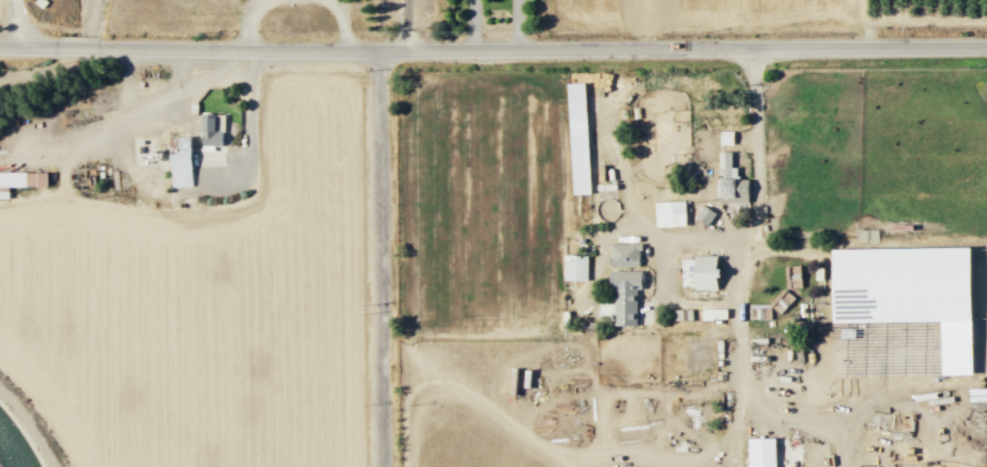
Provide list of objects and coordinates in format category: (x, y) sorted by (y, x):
road: (916, 19)
road: (250, 22)
road: (18, 23)
road: (342, 24)
road: (472, 24)
road: (517, 24)
road: (404, 25)
road: (493, 49)
road: (242, 107)
building: (209, 130)
building: (725, 136)
building: (578, 138)
building: (180, 161)
building: (20, 180)
building: (732, 184)
building: (670, 213)
building: (704, 215)
road: (721, 233)
building: (624, 254)
road: (379, 258)
building: (576, 267)
building: (705, 271)
building: (792, 275)
building: (902, 283)
building: (624, 294)
building: (783, 301)
road: (739, 306)
building: (683, 313)
building: (713, 313)
road: (791, 418)
road: (735, 426)
building: (761, 452)

